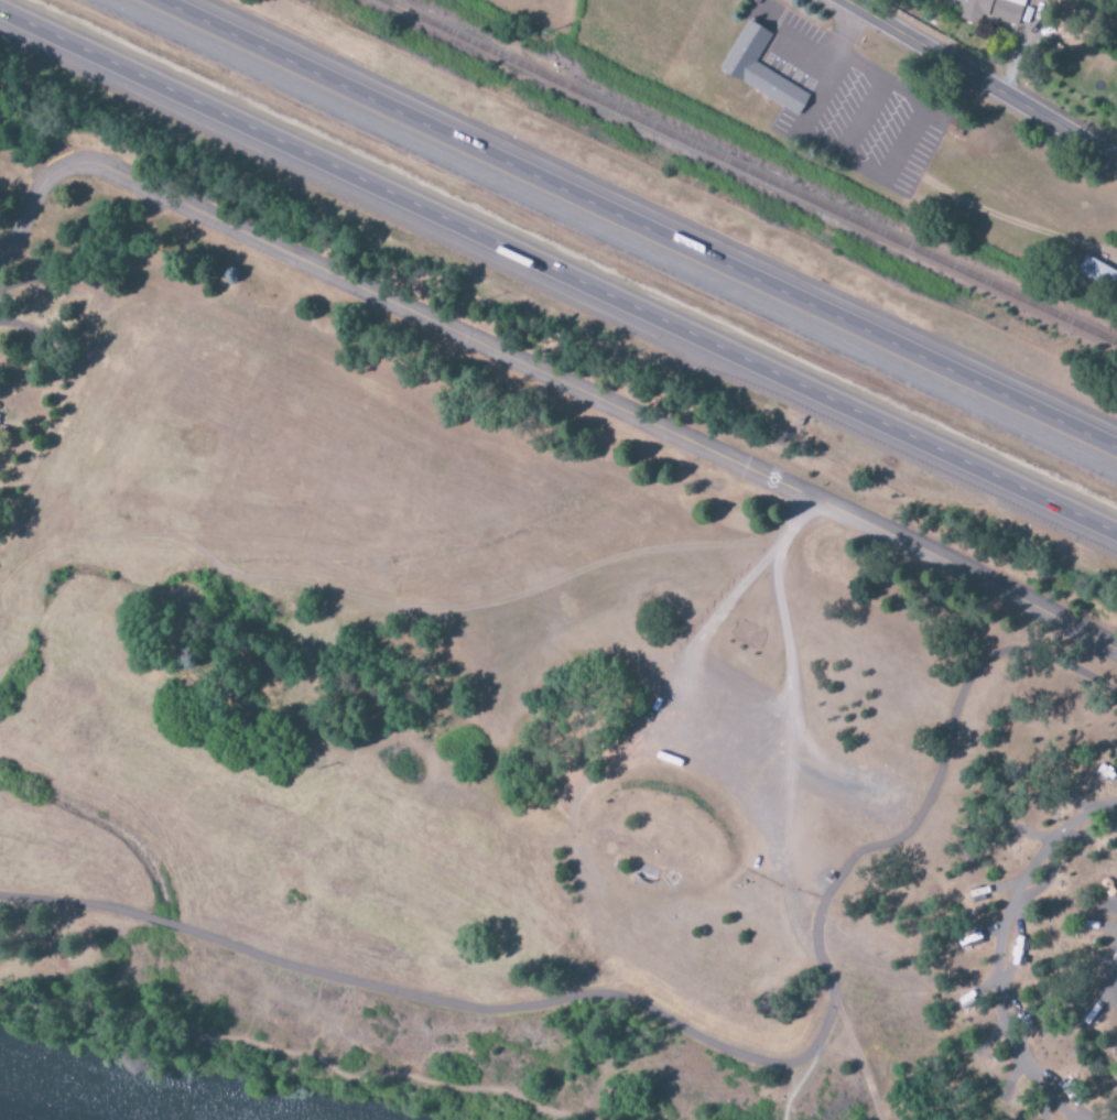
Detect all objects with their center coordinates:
building: (969, 8)
building: (1007, 10)
building: (761, 70)
road: (977, 80)
parking lot: (857, 109)
railway: (738, 175)
road: (637, 225)
road: (557, 272)
building: (1097, 274)
road: (541, 380)
road: (381, 607)
road: (708, 695)
road: (726, 762)
road: (779, 831)
road: (1067, 906)
road: (1000, 952)
road: (1109, 974)
road: (831, 999)
building: (968, 999)
road: (701, 1036)
road: (297, 1057)
river: (63, 1106)

